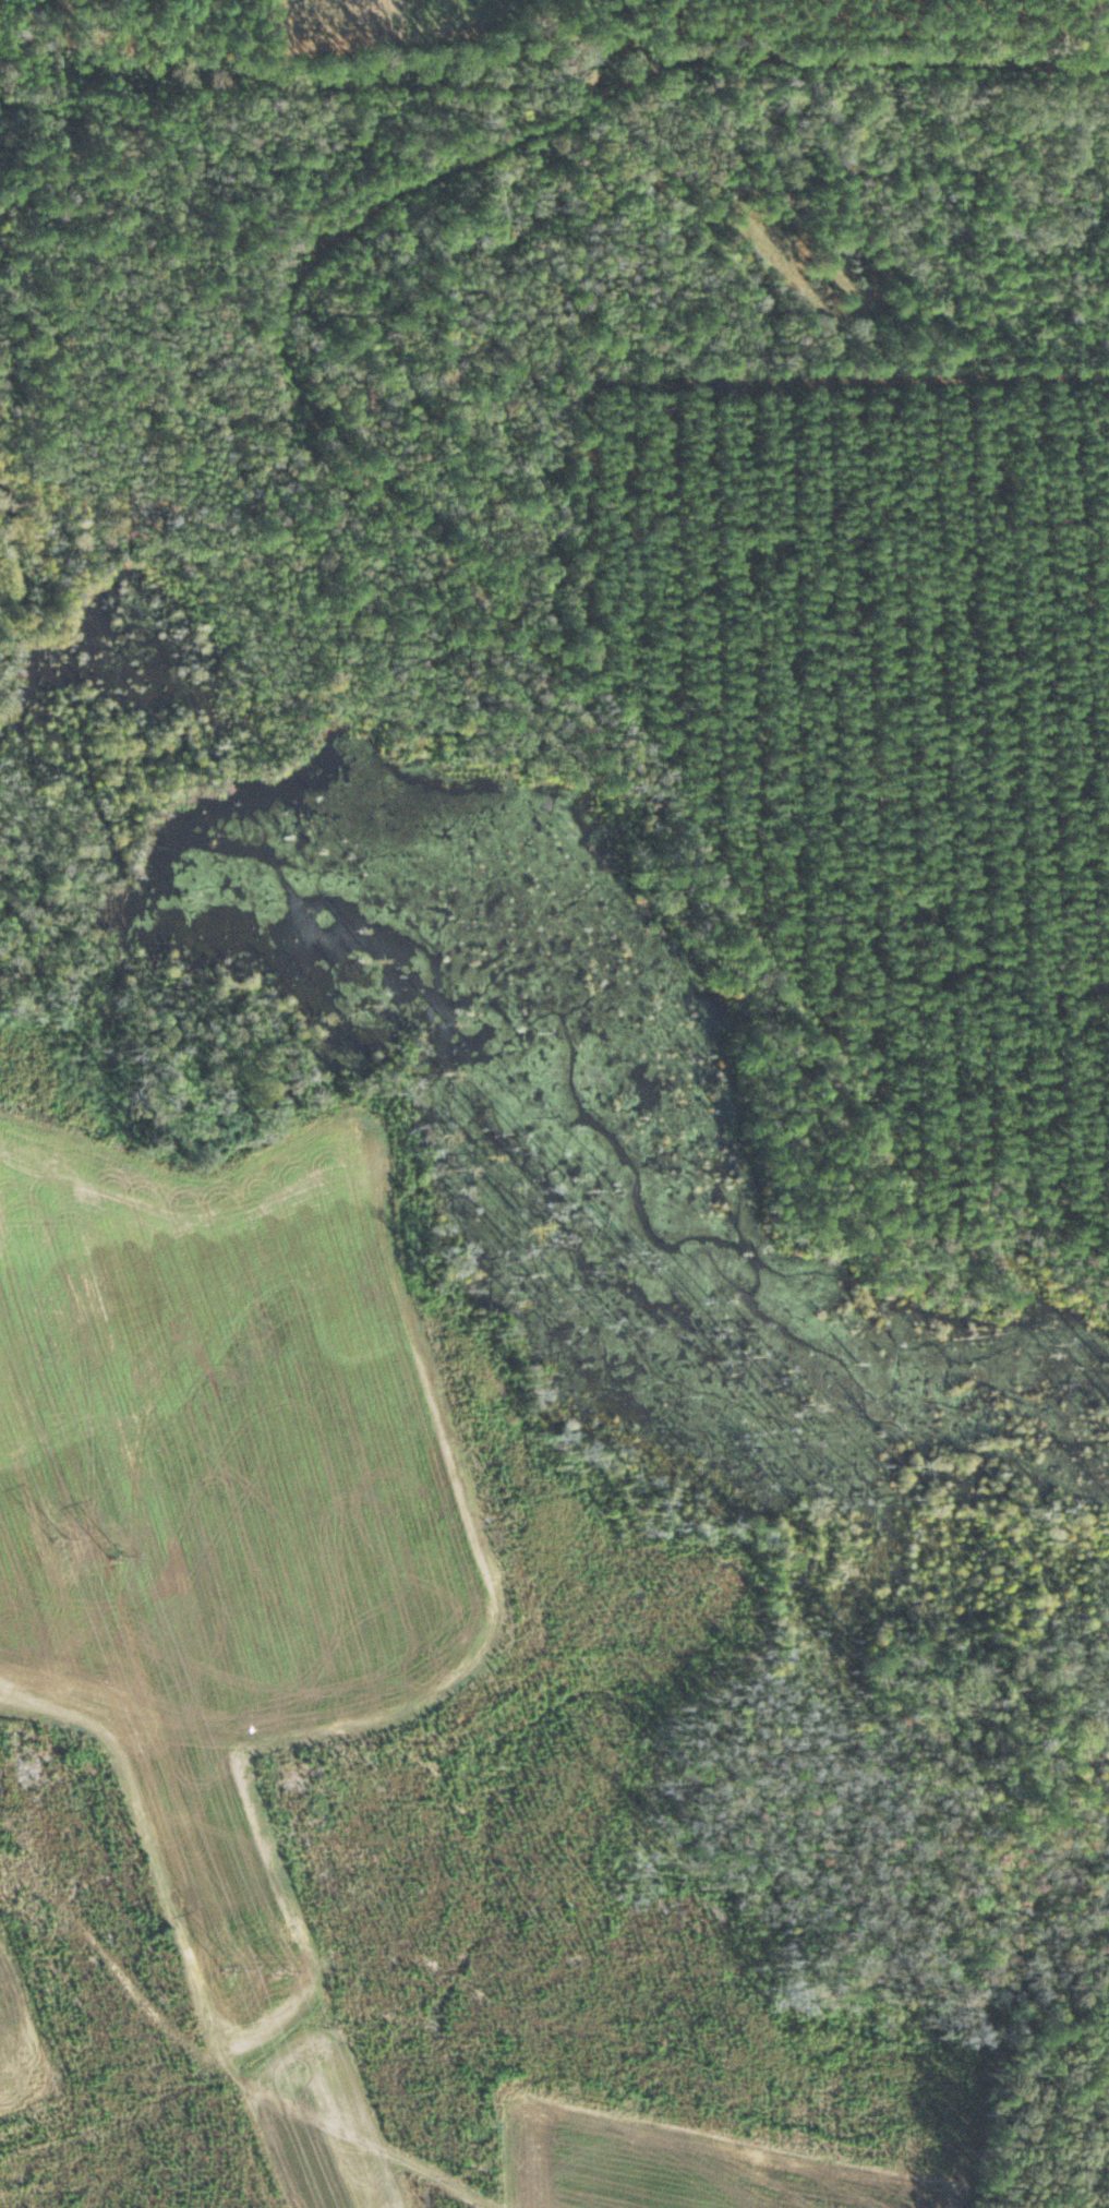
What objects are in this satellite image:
road: (411, 135)
power tower: (58, 1535)
power tower: (118, 1556)
power tower: (228, 1970)
power tower: (284, 1971)
road: (222, 2008)

